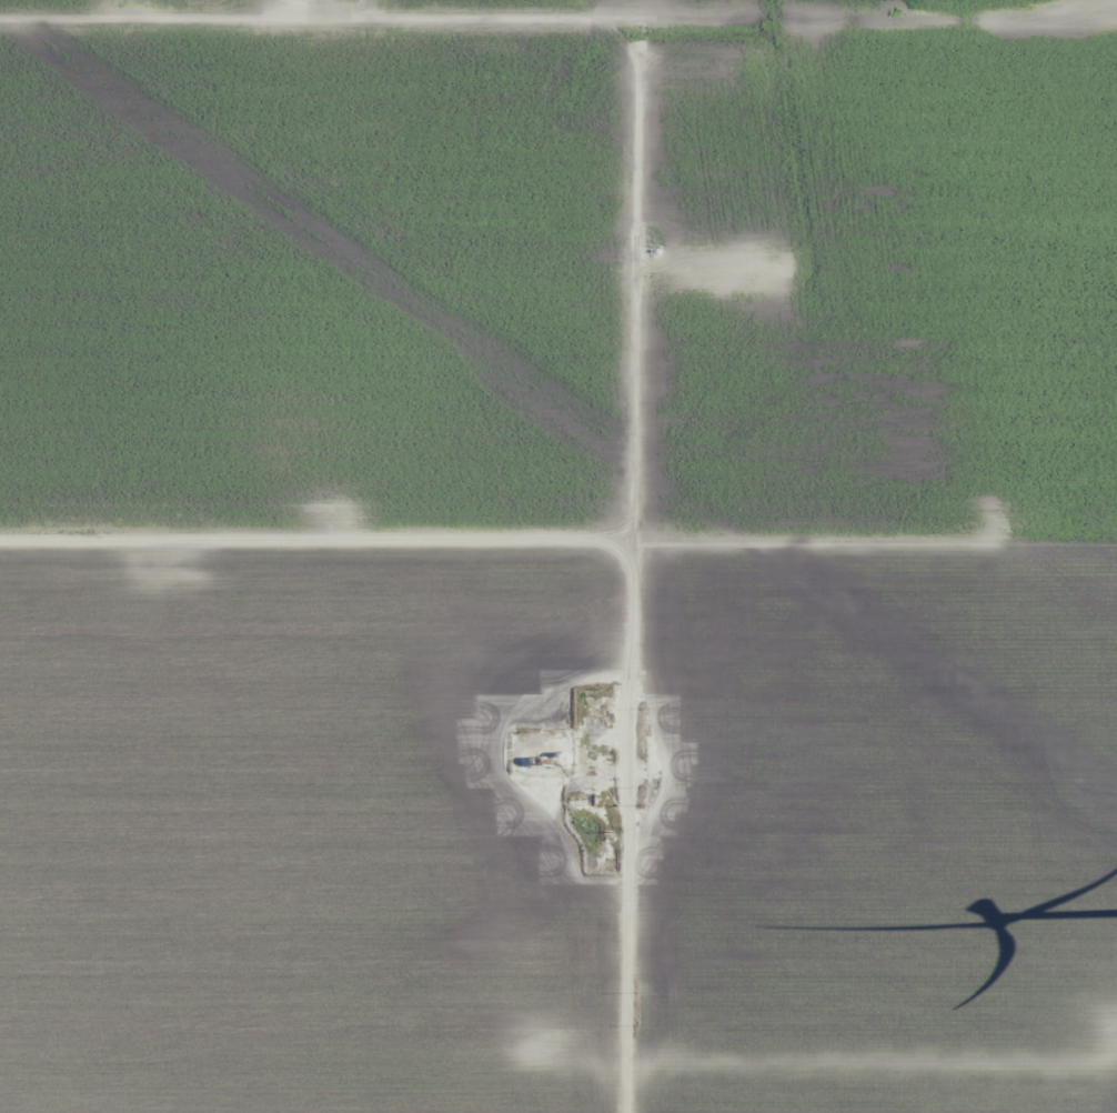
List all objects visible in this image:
road: (654, 248)
road: (326, 543)
road: (879, 1099)

